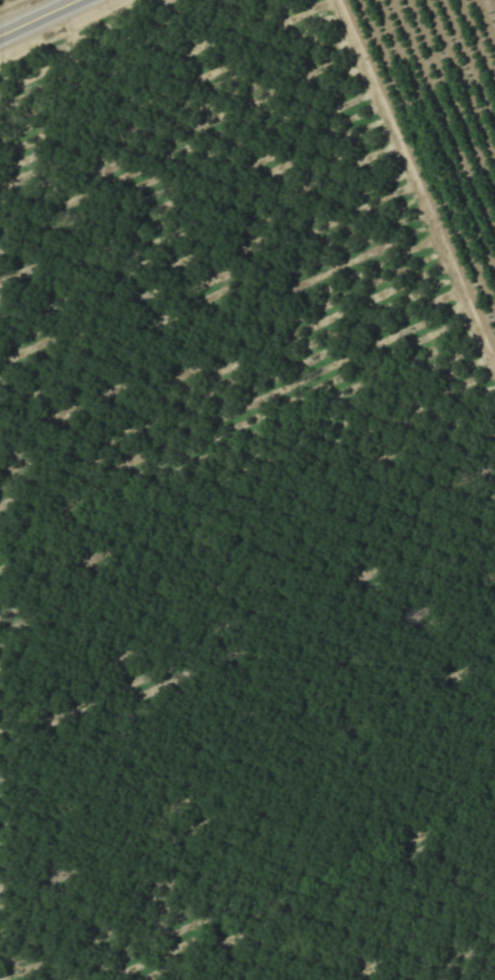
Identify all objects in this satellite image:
road: (37, 17)

